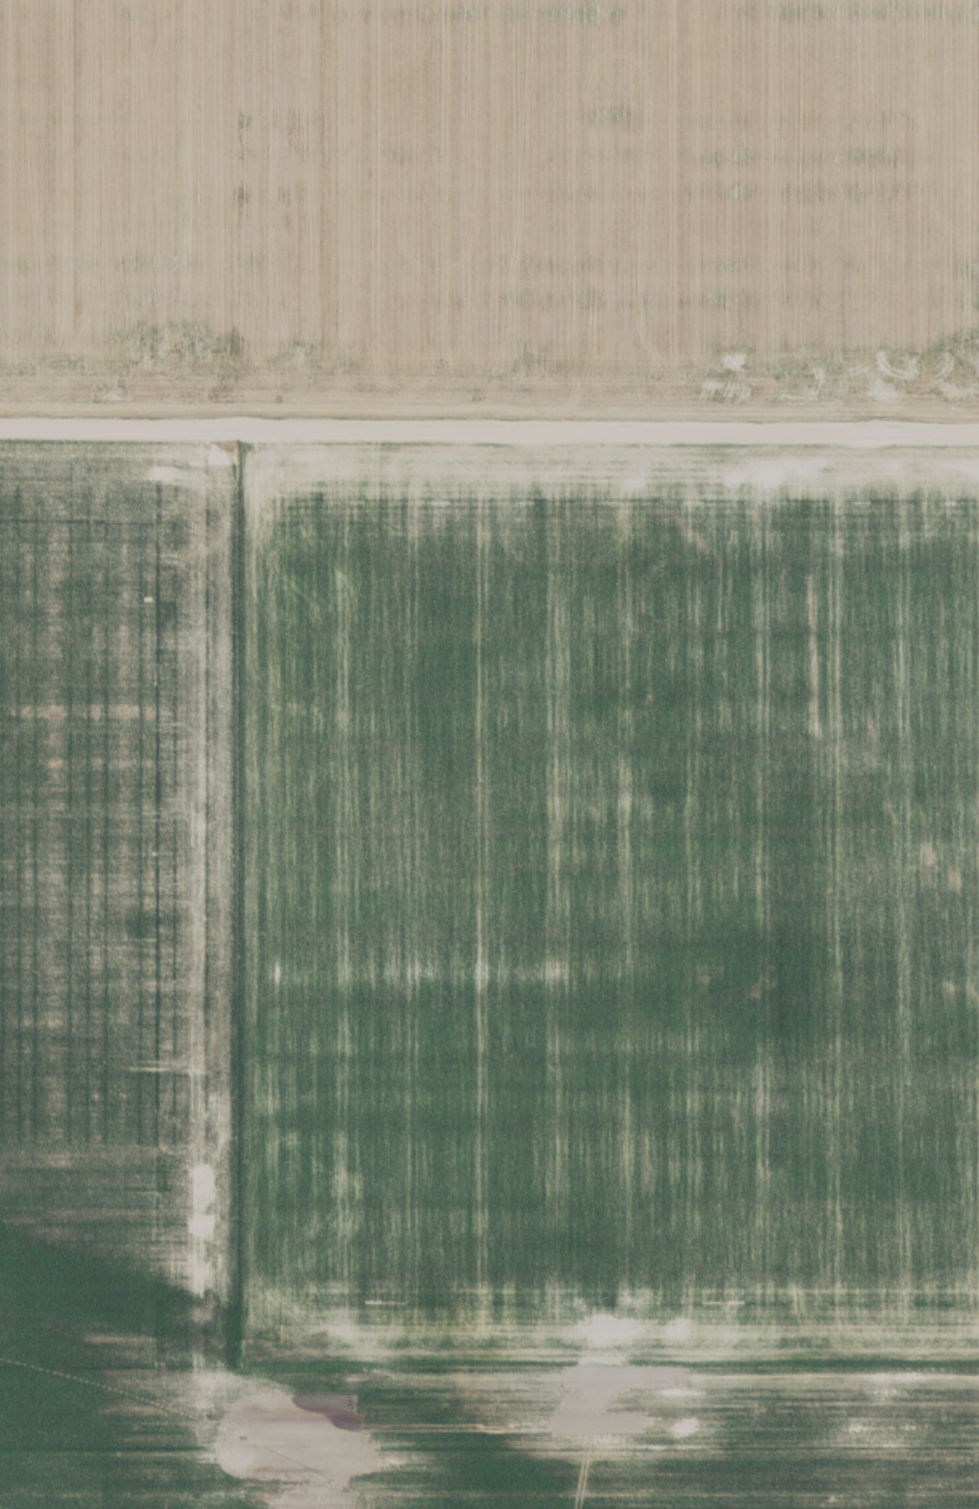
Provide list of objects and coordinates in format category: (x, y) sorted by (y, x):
road: (489, 428)

